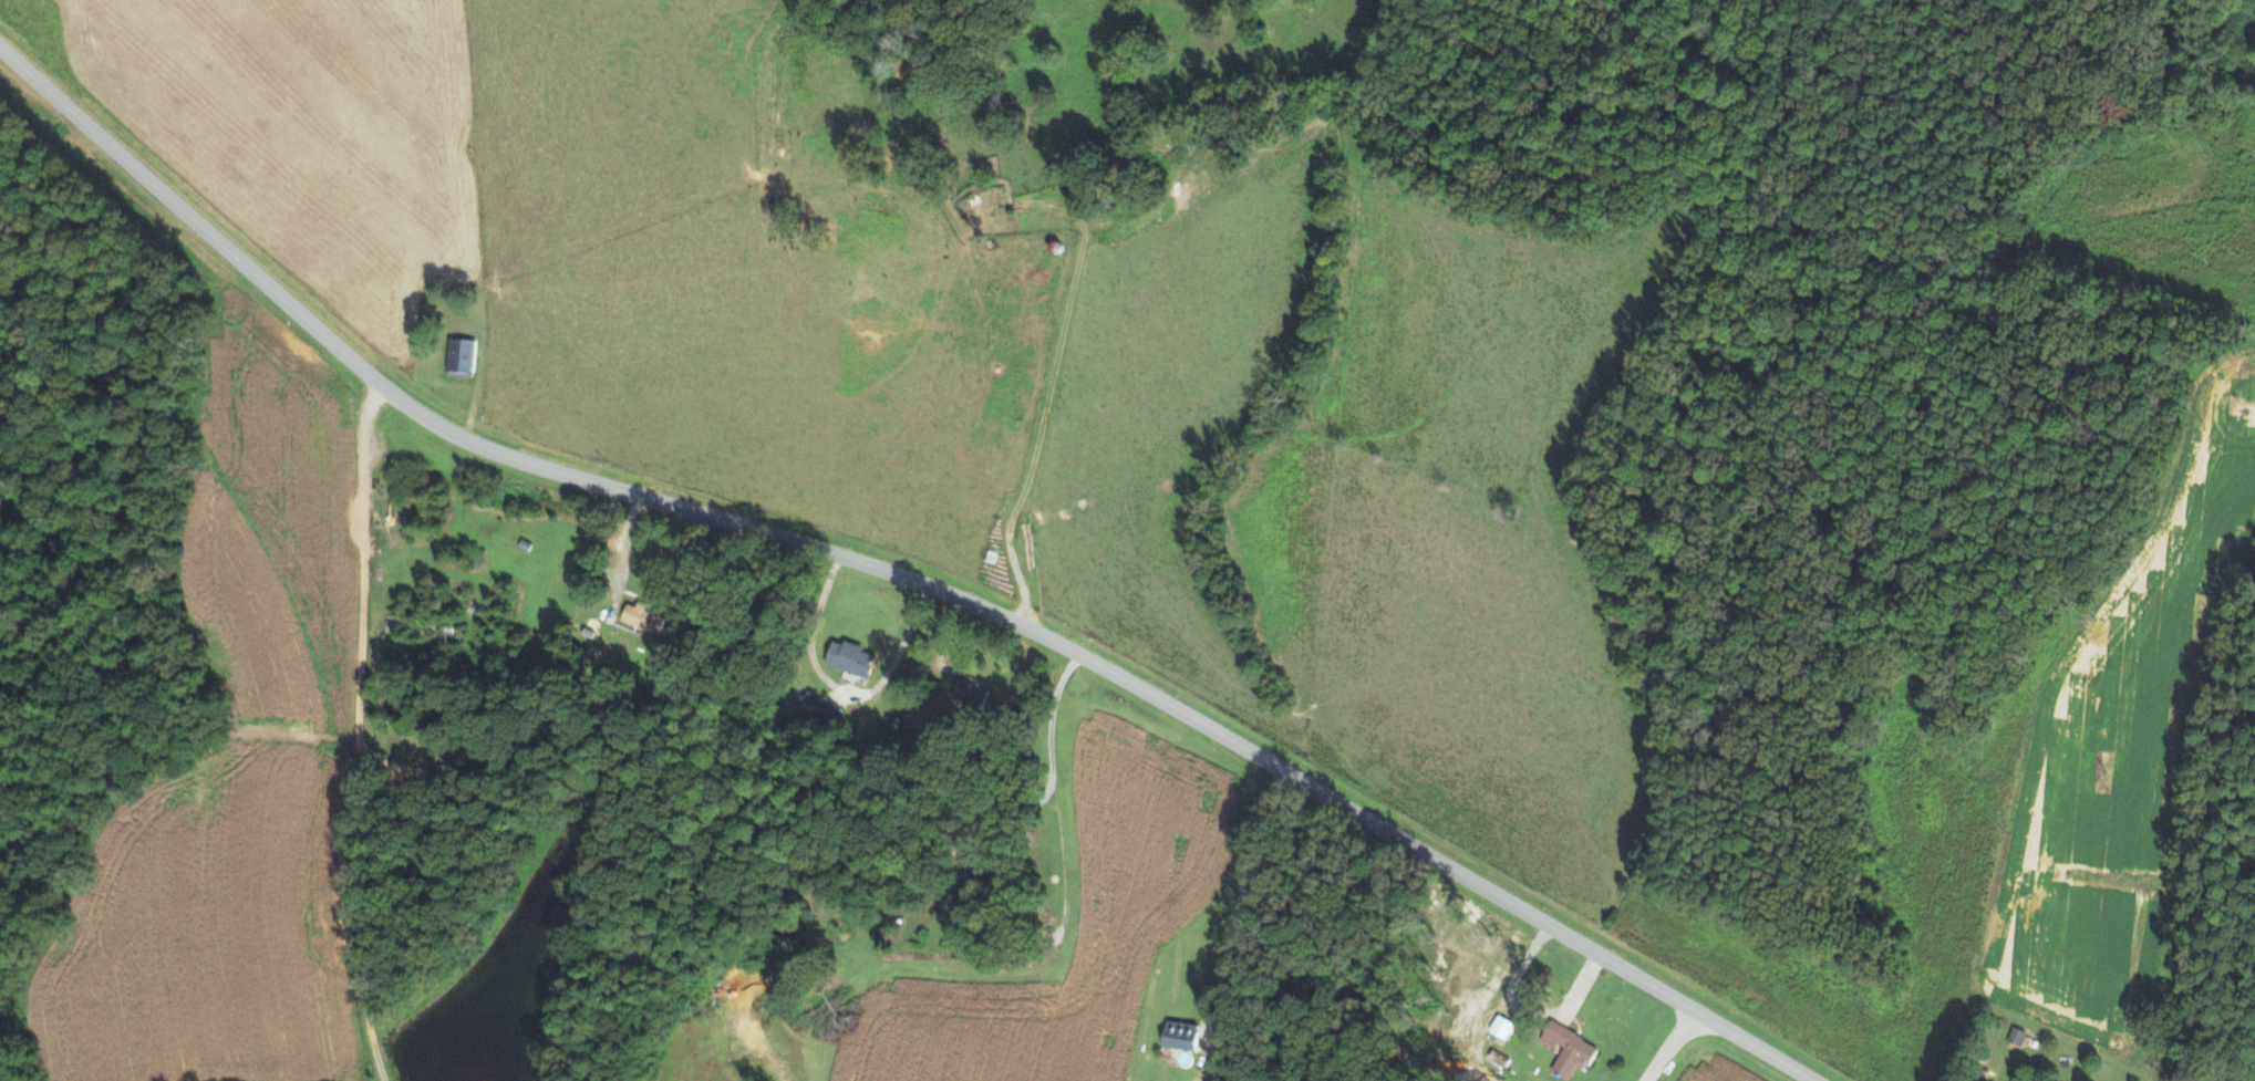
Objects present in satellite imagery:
road: (184, 211)
building: (461, 355)
road: (1038, 426)
building: (642, 619)
building: (850, 658)
road: (1113, 674)
road: (363, 728)
road: (1057, 802)
road: (1240, 895)
building: (1502, 1028)
building: (1181, 1036)
building: (2017, 1037)
road: (1674, 1048)
building: (1568, 1049)

